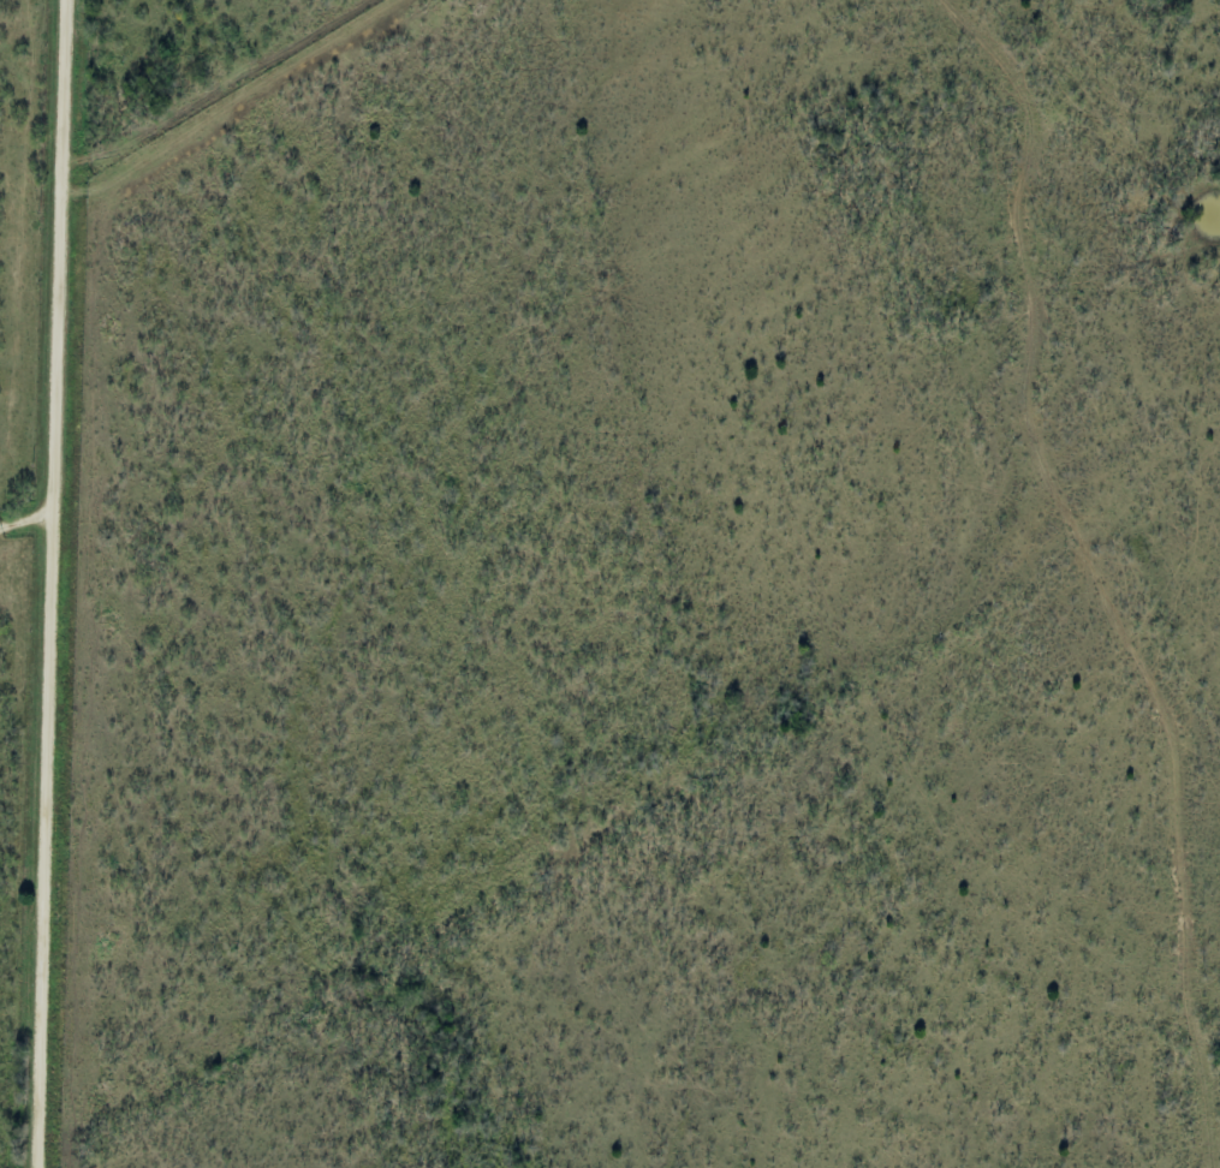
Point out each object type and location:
road: (30, 571)
road: (59, 583)

